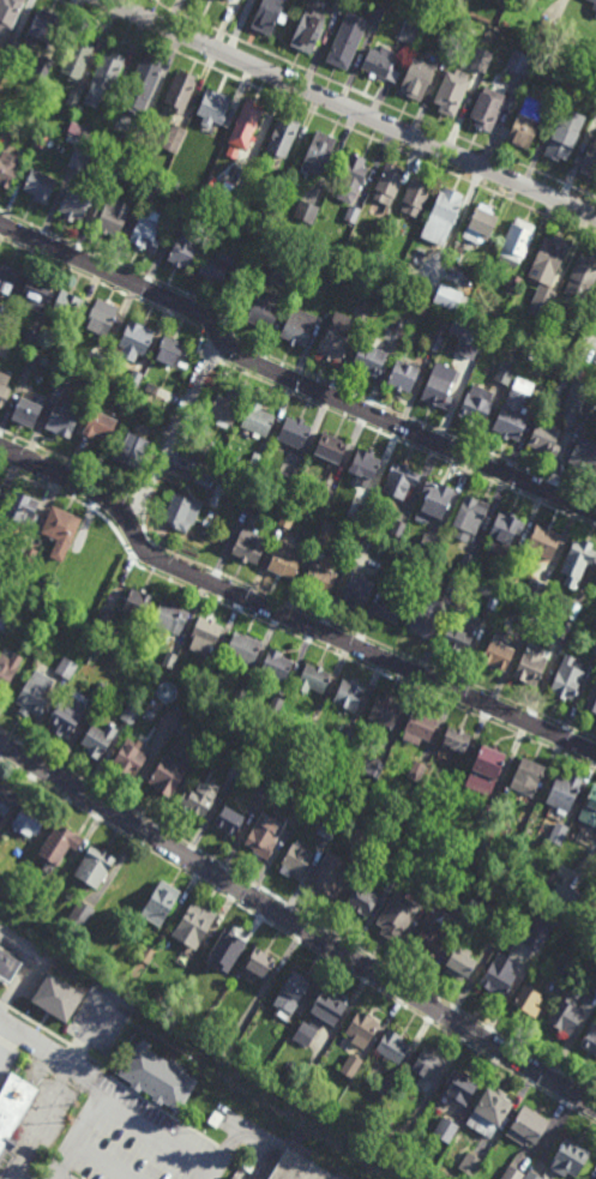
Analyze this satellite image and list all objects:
building: (215, 0)
building: (225, 0)
building: (297, 2)
building: (457, 2)
building: (338, 5)
building: (594, 5)
building: (8, 14)
road: (174, 14)
building: (271, 16)
building: (375, 16)
building: (595, 16)
building: (553, 18)
building: (44, 29)
building: (408, 29)
building: (306, 30)
building: (343, 43)
building: (586, 44)
building: (8, 49)
building: (76, 58)
building: (481, 58)
building: (381, 61)
building: (568, 61)
building: (519, 62)
building: (43, 65)
building: (576, 70)
building: (34, 76)
building: (103, 76)
building: (416, 76)
building: (142, 83)
building: (179, 90)
building: (451, 91)
building: (73, 95)
building: (215, 104)
building: (79, 106)
building: (487, 106)
road: (350, 109)
building: (18, 113)
building: (246, 122)
building: (6, 125)
building: (523, 127)
building: (82, 133)
building: (564, 133)
building: (282, 134)
building: (174, 136)
building: (42, 138)
building: (127, 144)
building: (317, 152)
building: (79, 157)
building: (590, 160)
building: (8, 167)
building: (112, 174)
building: (350, 175)
building: (240, 178)
building: (40, 184)
building: (174, 185)
building: (149, 186)
building: (385, 187)
building: (415, 194)
building: (73, 203)
building: (187, 205)
building: (351, 212)
building: (443, 213)
building: (112, 215)
building: (303, 215)
building: (392, 223)
building: (481, 223)
building: (145, 233)
building: (517, 240)
building: (183, 248)
building: (548, 258)
building: (218, 263)
building: (361, 264)
building: (582, 273)
building: (7, 276)
building: (513, 282)
building: (36, 289)
building: (451, 297)
building: (543, 300)
building: (66, 305)
building: (266, 309)
building: (362, 313)
building: (100, 318)
building: (1, 324)
building: (399, 325)
building: (594, 325)
building: (299, 326)
building: (574, 333)
building: (28, 336)
building: (335, 336)
building: (468, 337)
building: (136, 339)
building: (435, 342)
building: (5, 345)
building: (170, 349)
building: (60, 351)
building: (32, 359)
building: (368, 359)
building: (98, 365)
building: (506, 371)
building: (65, 374)
building: (403, 374)
building: (547, 377)
building: (134, 379)
road: (289, 380)
building: (440, 385)
building: (4, 386)
building: (152, 387)
building: (540, 391)
building: (576, 395)
building: (476, 404)
building: (227, 407)
building: (26, 409)
building: (514, 410)
building: (589, 410)
building: (62, 417)
building: (259, 419)
building: (100, 425)
road: (176, 431)
building: (295, 432)
building: (546, 438)
building: (330, 449)
building: (132, 450)
building: (211, 455)
building: (584, 455)
building: (365, 464)
building: (254, 465)
building: (203, 480)
building: (0, 481)
building: (285, 481)
building: (401, 481)
building: (0, 483)
building: (254, 497)
building: (325, 497)
building: (437, 498)
building: (22, 509)
building: (182, 512)
building: (360, 513)
building: (289, 515)
building: (469, 517)
building: (397, 527)
building: (60, 529)
building: (324, 531)
building: (505, 531)
building: (543, 541)
building: (362, 543)
building: (428, 543)
building: (248, 546)
building: (26, 553)
building: (285, 560)
building: (468, 561)
building: (578, 561)
building: (501, 576)
building: (320, 578)
building: (384, 578)
building: (456, 584)
building: (535, 590)
building: (356, 592)
building: (34, 597)
building: (137, 603)
building: (492, 603)
building: (389, 608)
building: (573, 610)
building: (528, 614)
building: (170, 616)
road: (284, 616)
building: (426, 616)
building: (102, 619)
building: (5, 620)
building: (565, 630)
building: (205, 636)
building: (459, 637)
building: (40, 639)
building: (245, 648)
building: (594, 649)
building: (499, 651)
building: (169, 660)
building: (531, 664)
building: (276, 666)
building: (7, 668)
building: (66, 668)
building: (205, 676)
building: (568, 678)
building: (313, 679)
building: (241, 690)
building: (101, 691)
building: (144, 693)
building: (34, 696)
building: (350, 696)
building: (591, 700)
building: (276, 705)
building: (385, 710)
building: (67, 714)
building: (131, 714)
building: (170, 721)
building: (421, 724)
building: (306, 734)
building: (457, 735)
building: (98, 736)
building: (348, 736)
building: (207, 738)
building: (128, 758)
building: (488, 763)
building: (236, 766)
building: (373, 766)
building: (462, 768)
building: (417, 770)
building: (168, 772)
building: (529, 774)
building: (267, 786)
building: (565, 790)
building: (6, 796)
building: (200, 796)
building: (301, 802)
building: (589, 808)
building: (230, 813)
building: (29, 819)
building: (330, 826)
building: (266, 830)
building: (559, 834)
building: (59, 842)
building: (360, 855)
building: (297, 858)
building: (94, 865)
building: (396, 873)
building: (330, 874)
building: (552, 877)
building: (429, 892)
building: (565, 896)
building: (362, 898)
building: (161, 901)
building: (82, 913)
building: (397, 915)
building: (459, 919)
building: (193, 921)
road: (297, 925)
building: (432, 938)
building: (531, 946)
building: (225, 950)
building: (148, 954)
building: (260, 962)
building: (460, 962)
building: (7, 966)
building: (564, 968)
building: (496, 976)
building: (296, 985)
building: (594, 986)
building: (56, 995)
building: (529, 999)
building: (323, 1013)
building: (565, 1016)
building: (362, 1028)
building: (590, 1040)
building: (393, 1046)
building: (225, 1047)
road: (46, 1052)
building: (351, 1065)
building: (428, 1065)
building: (156, 1078)
building: (384, 1087)
building: (462, 1088)
building: (13, 1107)
building: (490, 1111)
road: (80, 1125)
building: (528, 1125)
building: (447, 1127)
road: (155, 1137)
building: (393, 1143)
building: (570, 1159)
building: (301, 1162)
building: (471, 1165)
building: (519, 1174)
road: (55, 1177)
building: (235, 1178)

